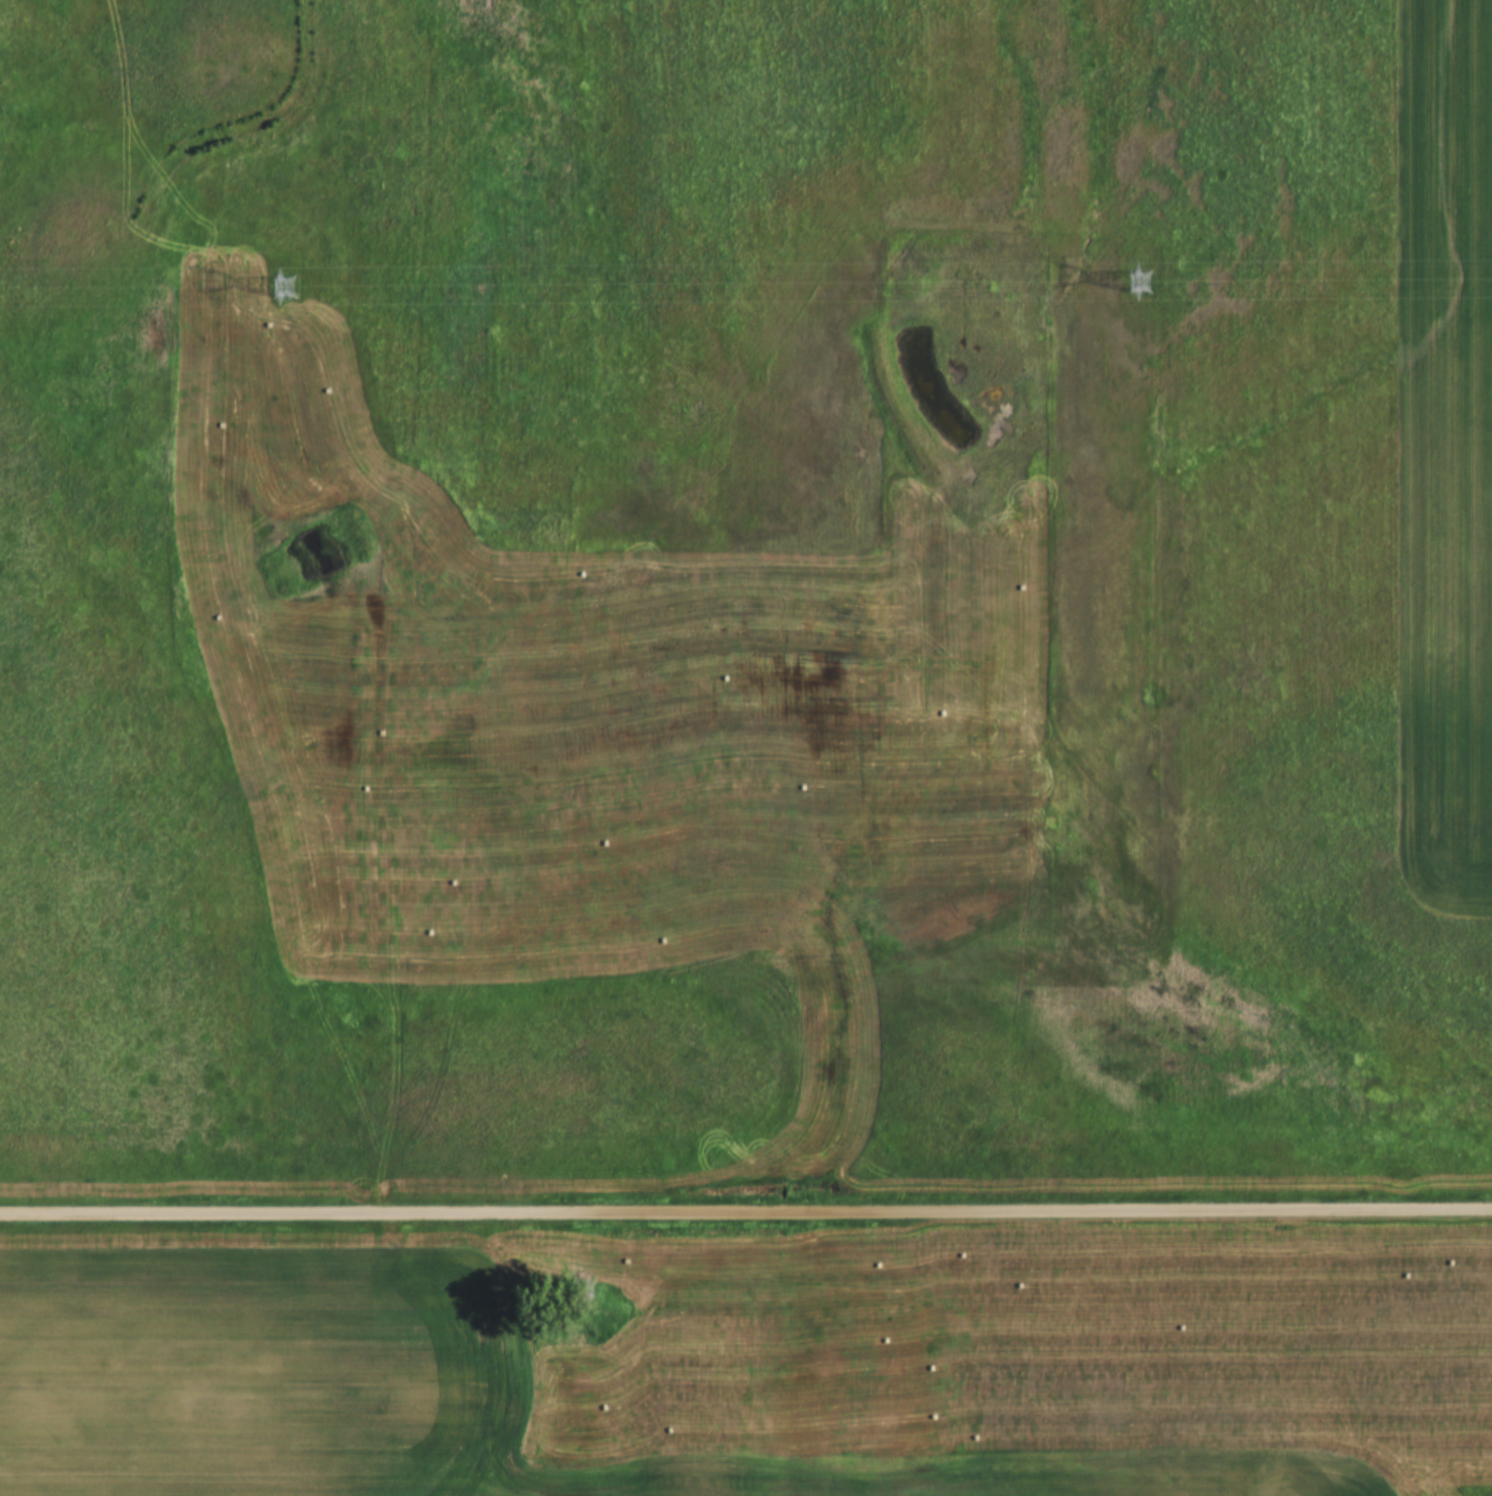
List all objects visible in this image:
power tower: (1139, 291)
power tower: (290, 296)
road: (746, 1214)

